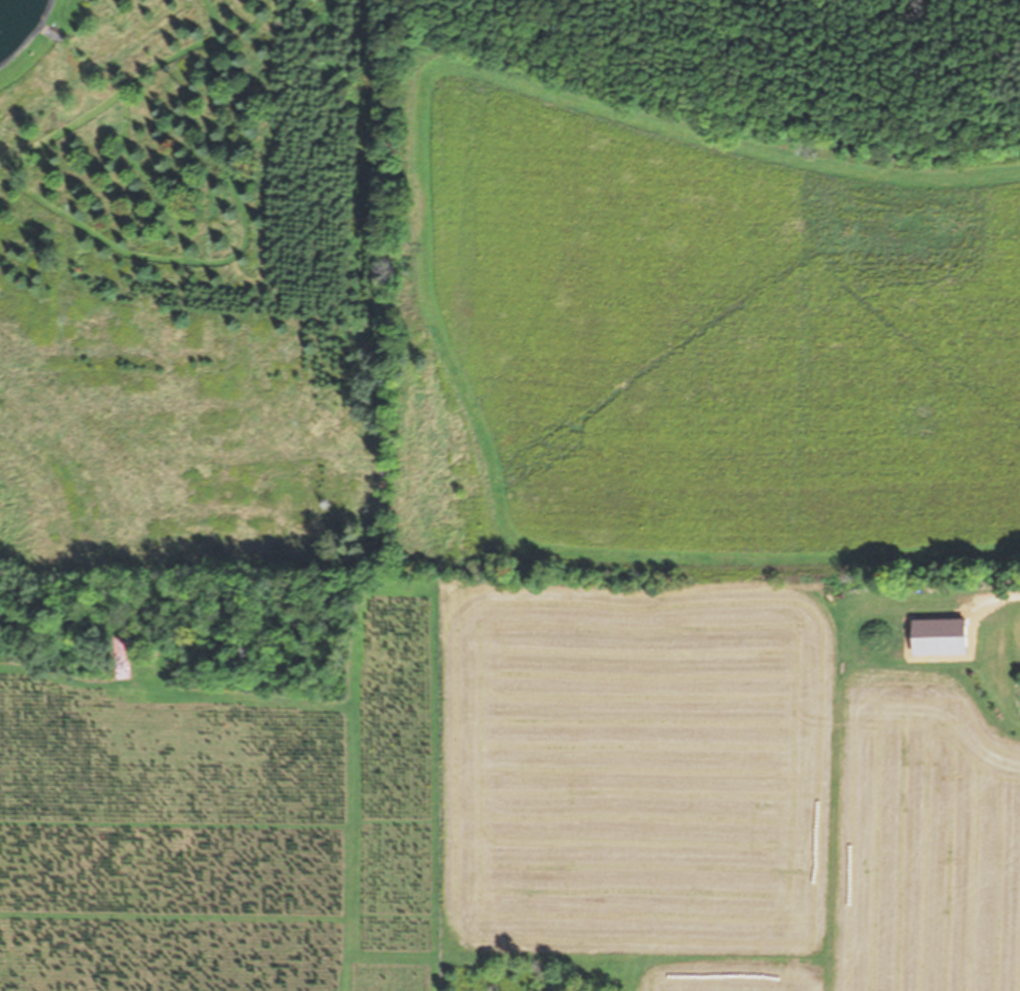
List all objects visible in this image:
building: (734, 499)

